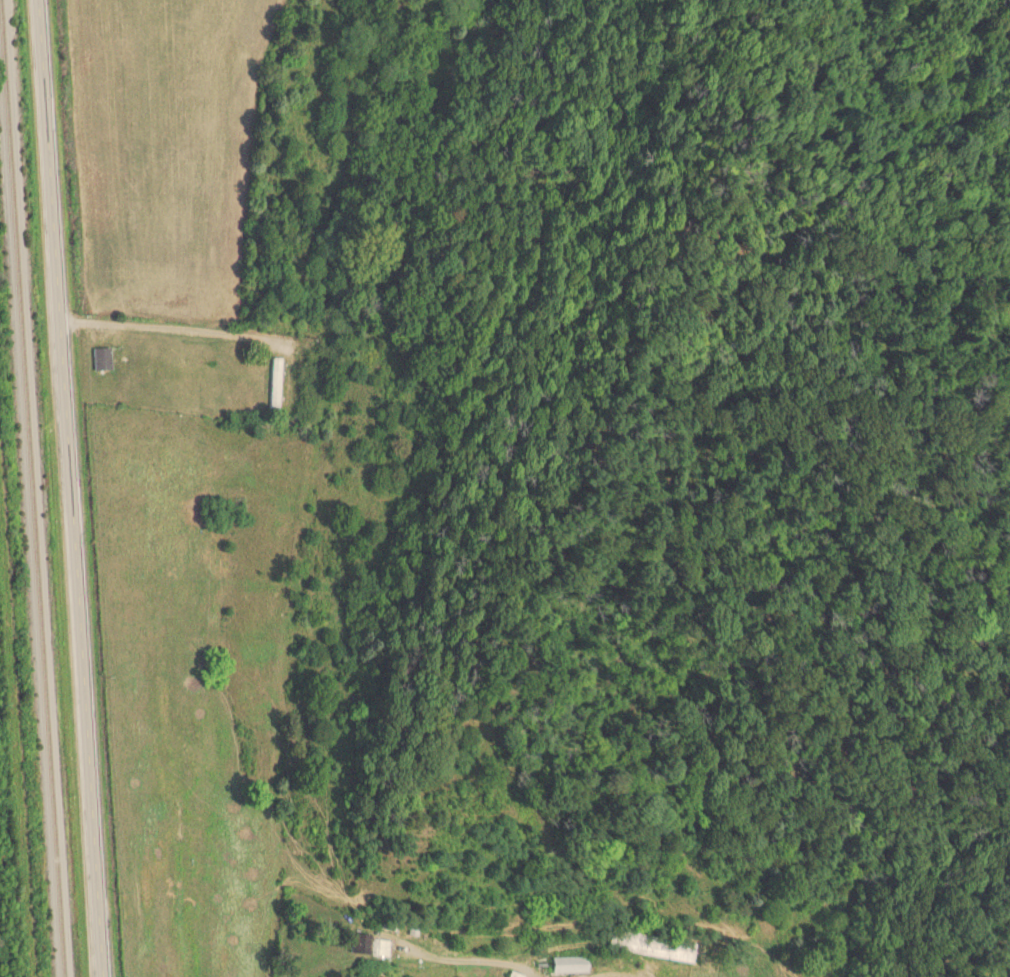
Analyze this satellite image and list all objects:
road: (173, 326)
building: (104, 358)
building: (276, 382)
road: (68, 488)
railway: (29, 543)
road: (892, 842)
building: (370, 945)
building: (653, 945)
building: (571, 964)
building: (516, 974)

